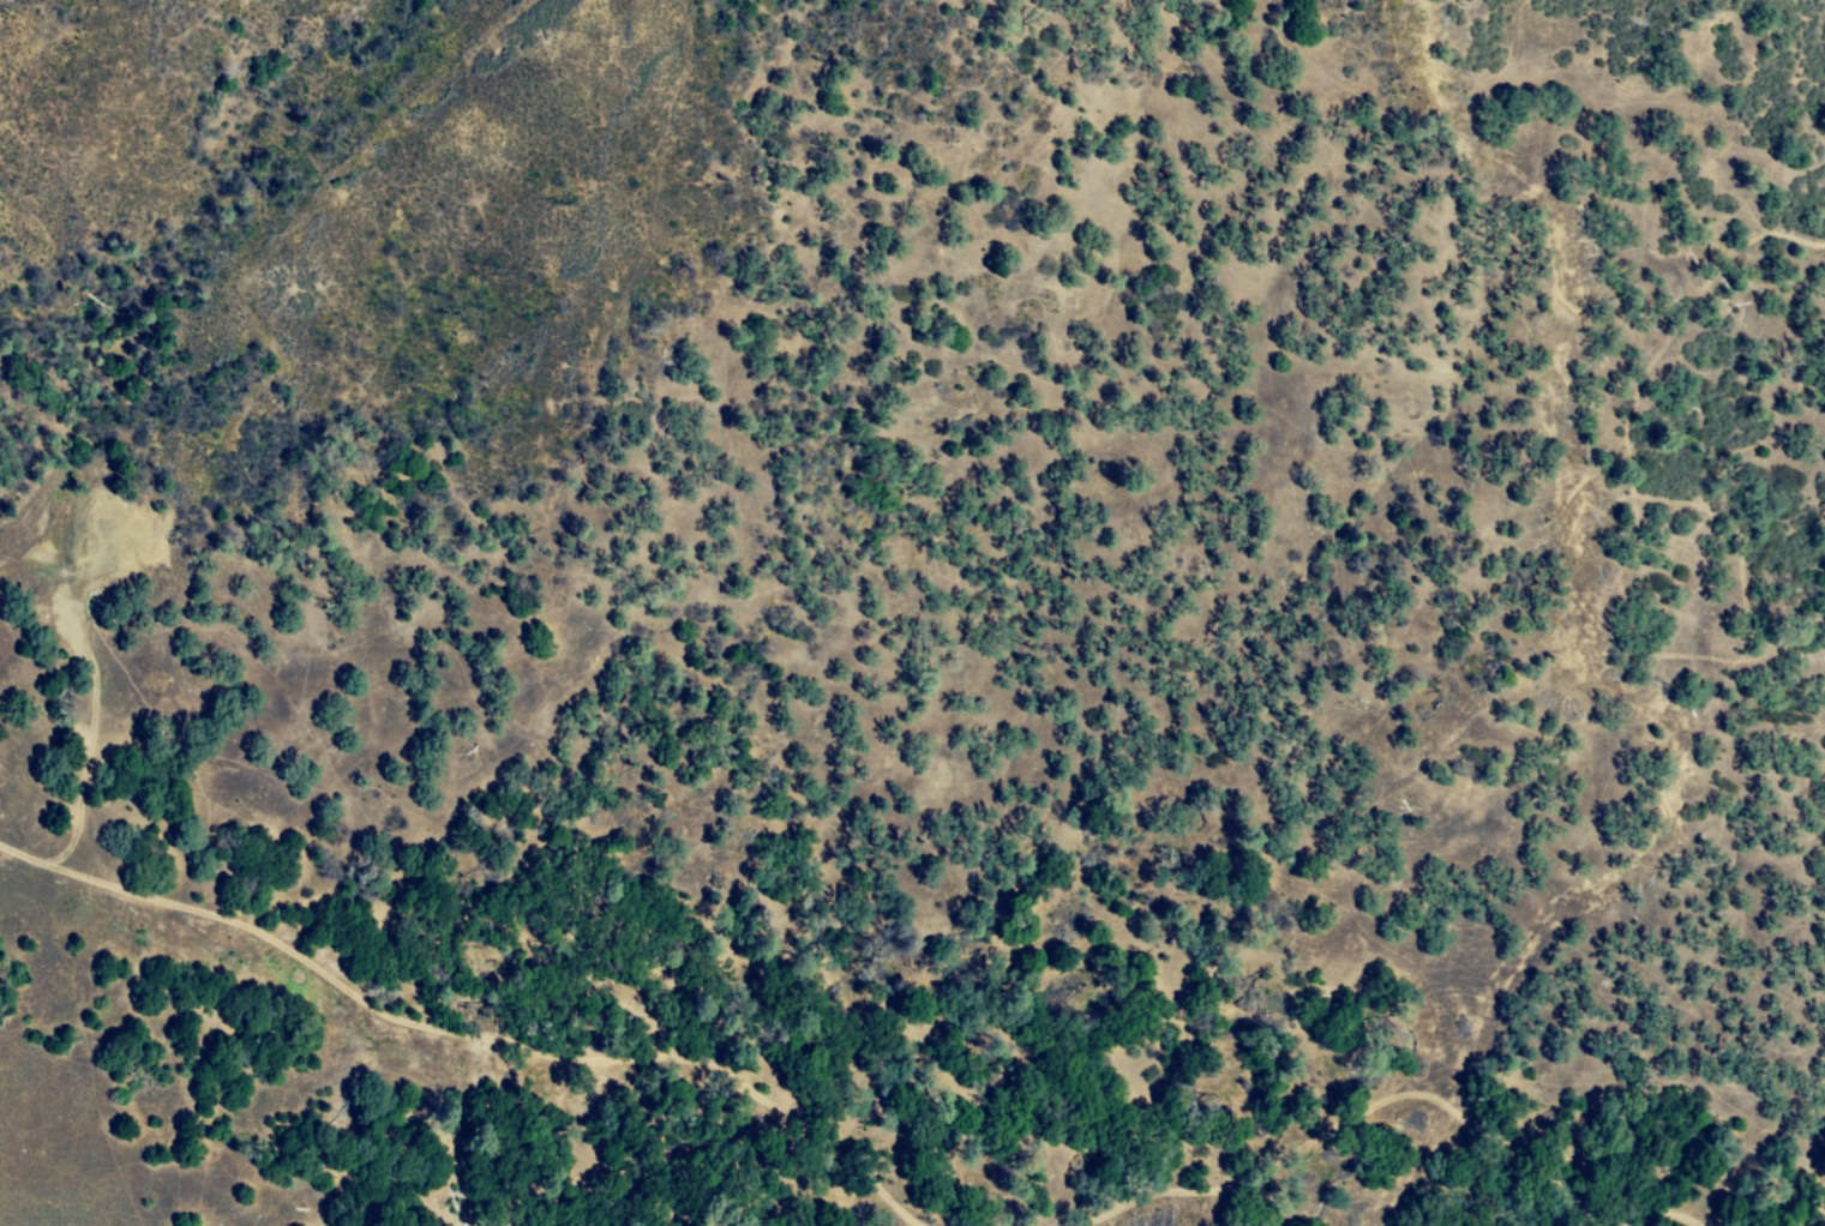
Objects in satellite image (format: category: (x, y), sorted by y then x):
road: (467, 1039)
road: (1166, 1208)

